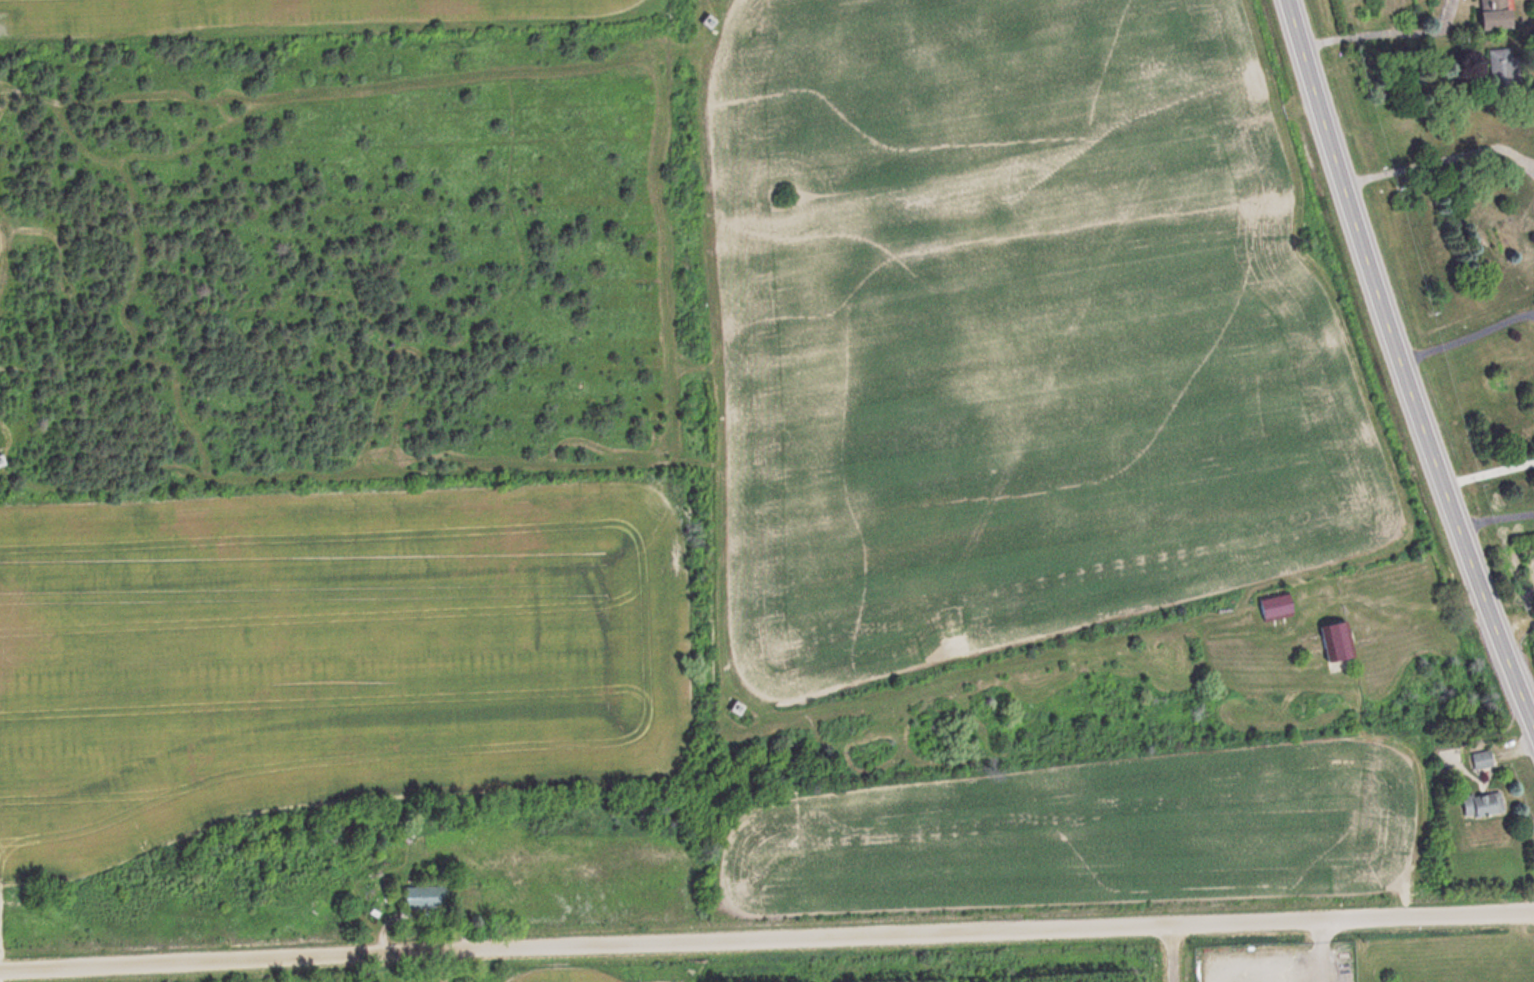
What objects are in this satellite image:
building: (1483, 15)
building: (1497, 69)
building: (1532, 119)
road: (1403, 367)
building: (1283, 608)
building: (1343, 645)
building: (1447, 760)
building: (1474, 760)
building: (1475, 805)
building: (432, 897)
road: (766, 937)
road: (1163, 952)

